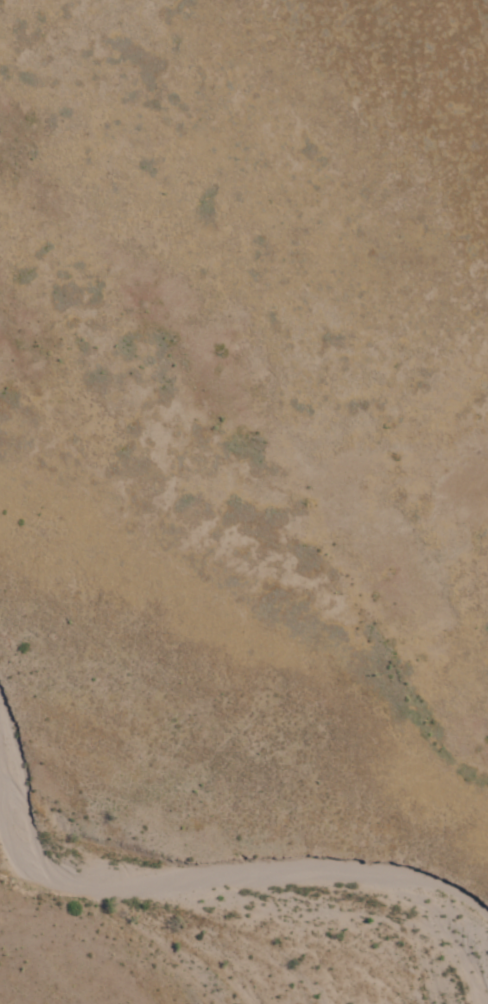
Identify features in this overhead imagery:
river: (150, 904)

